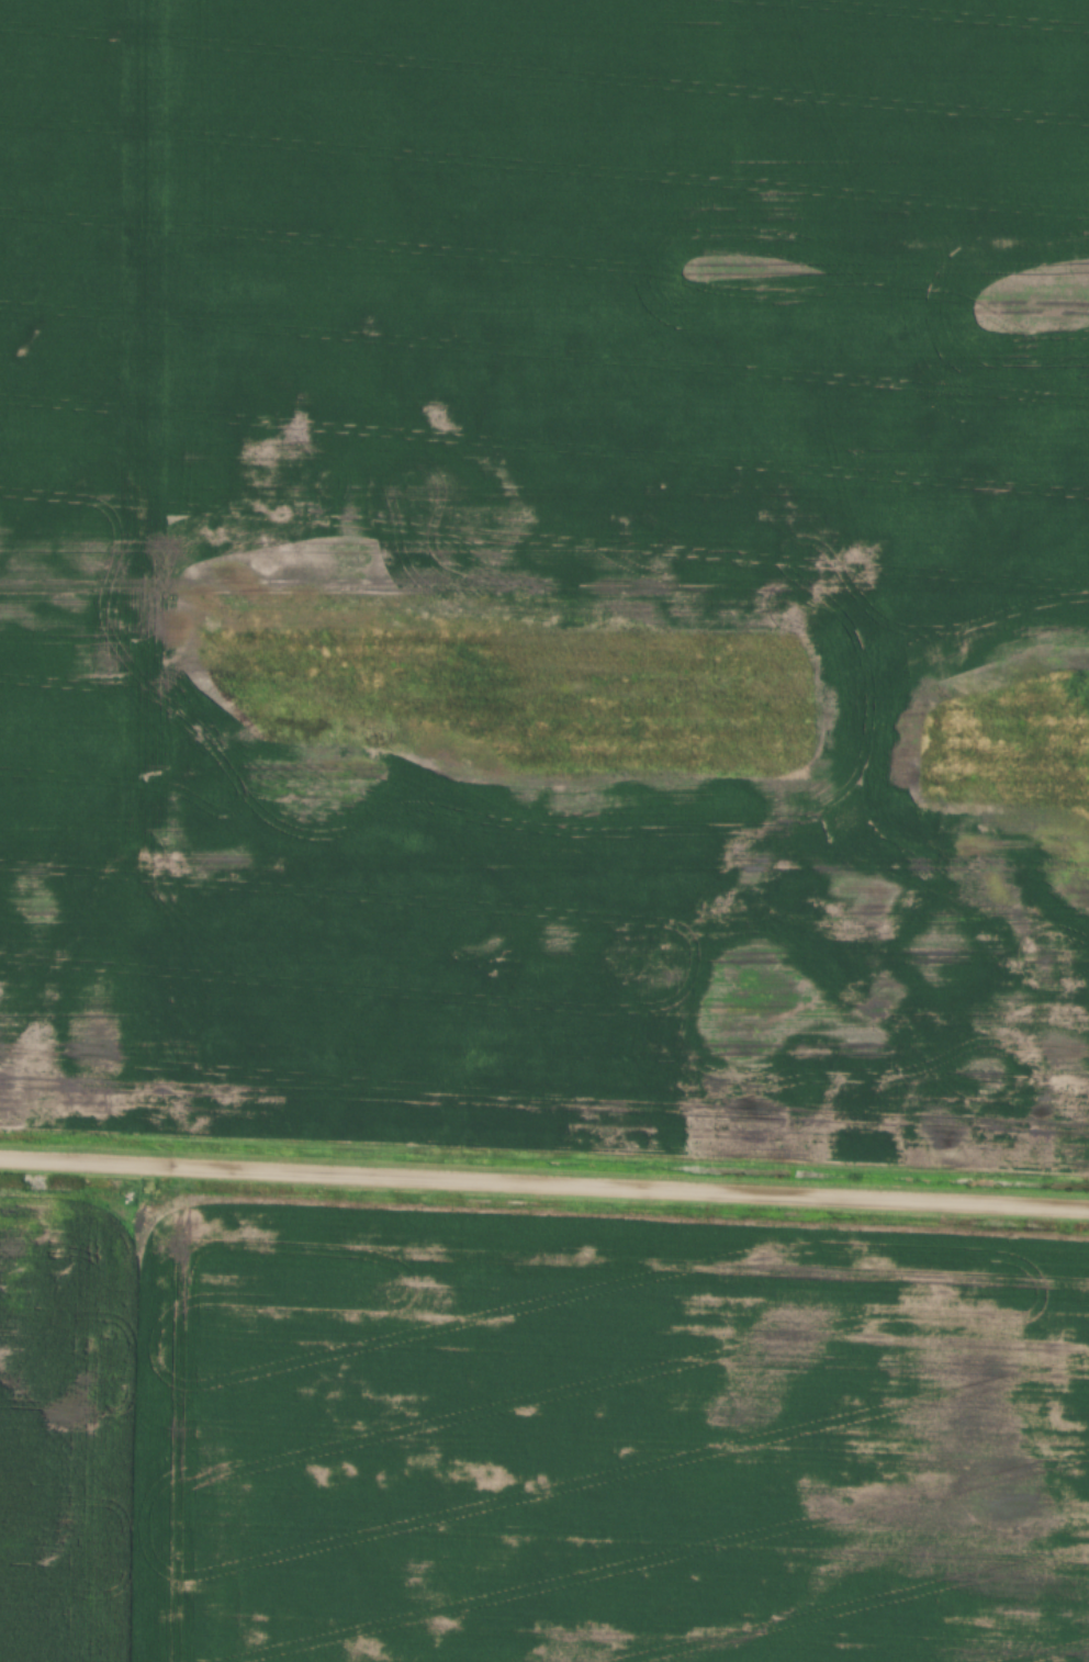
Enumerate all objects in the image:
road: (544, 1180)

